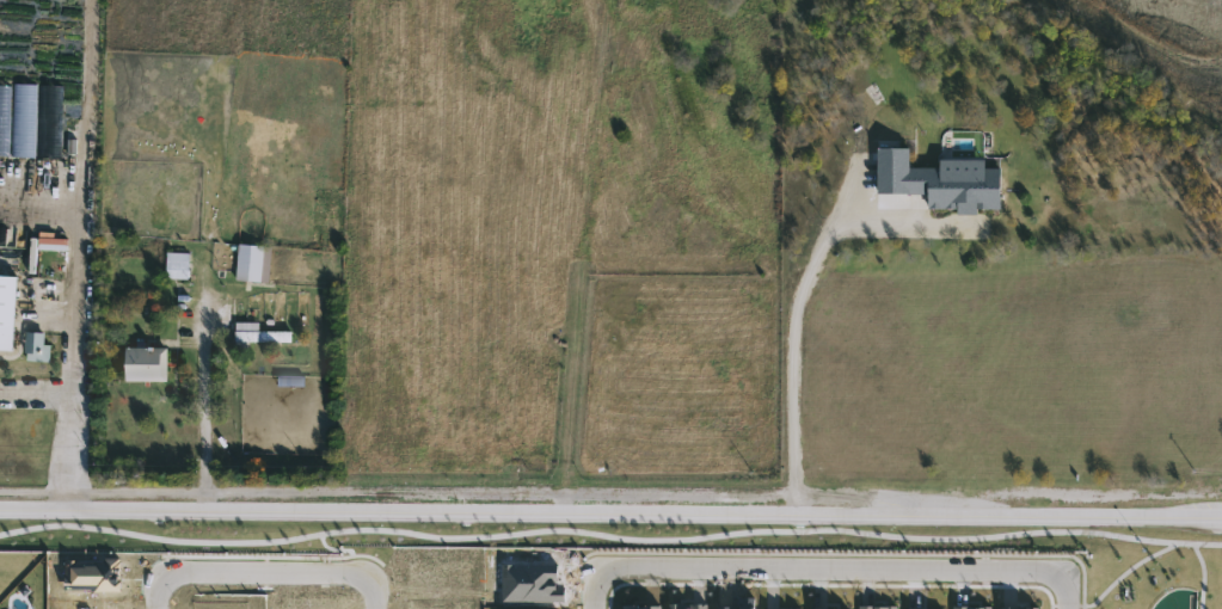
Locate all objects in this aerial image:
building: (4, 119)
building: (251, 262)
building: (176, 264)
building: (6, 308)
road: (72, 319)
building: (257, 332)
road: (791, 352)
building: (143, 363)
road: (35, 398)
road: (202, 401)
road: (610, 498)
road: (834, 570)
road: (274, 571)
road: (595, 591)
road: (162, 592)
road: (1068, 592)
road: (374, 597)

